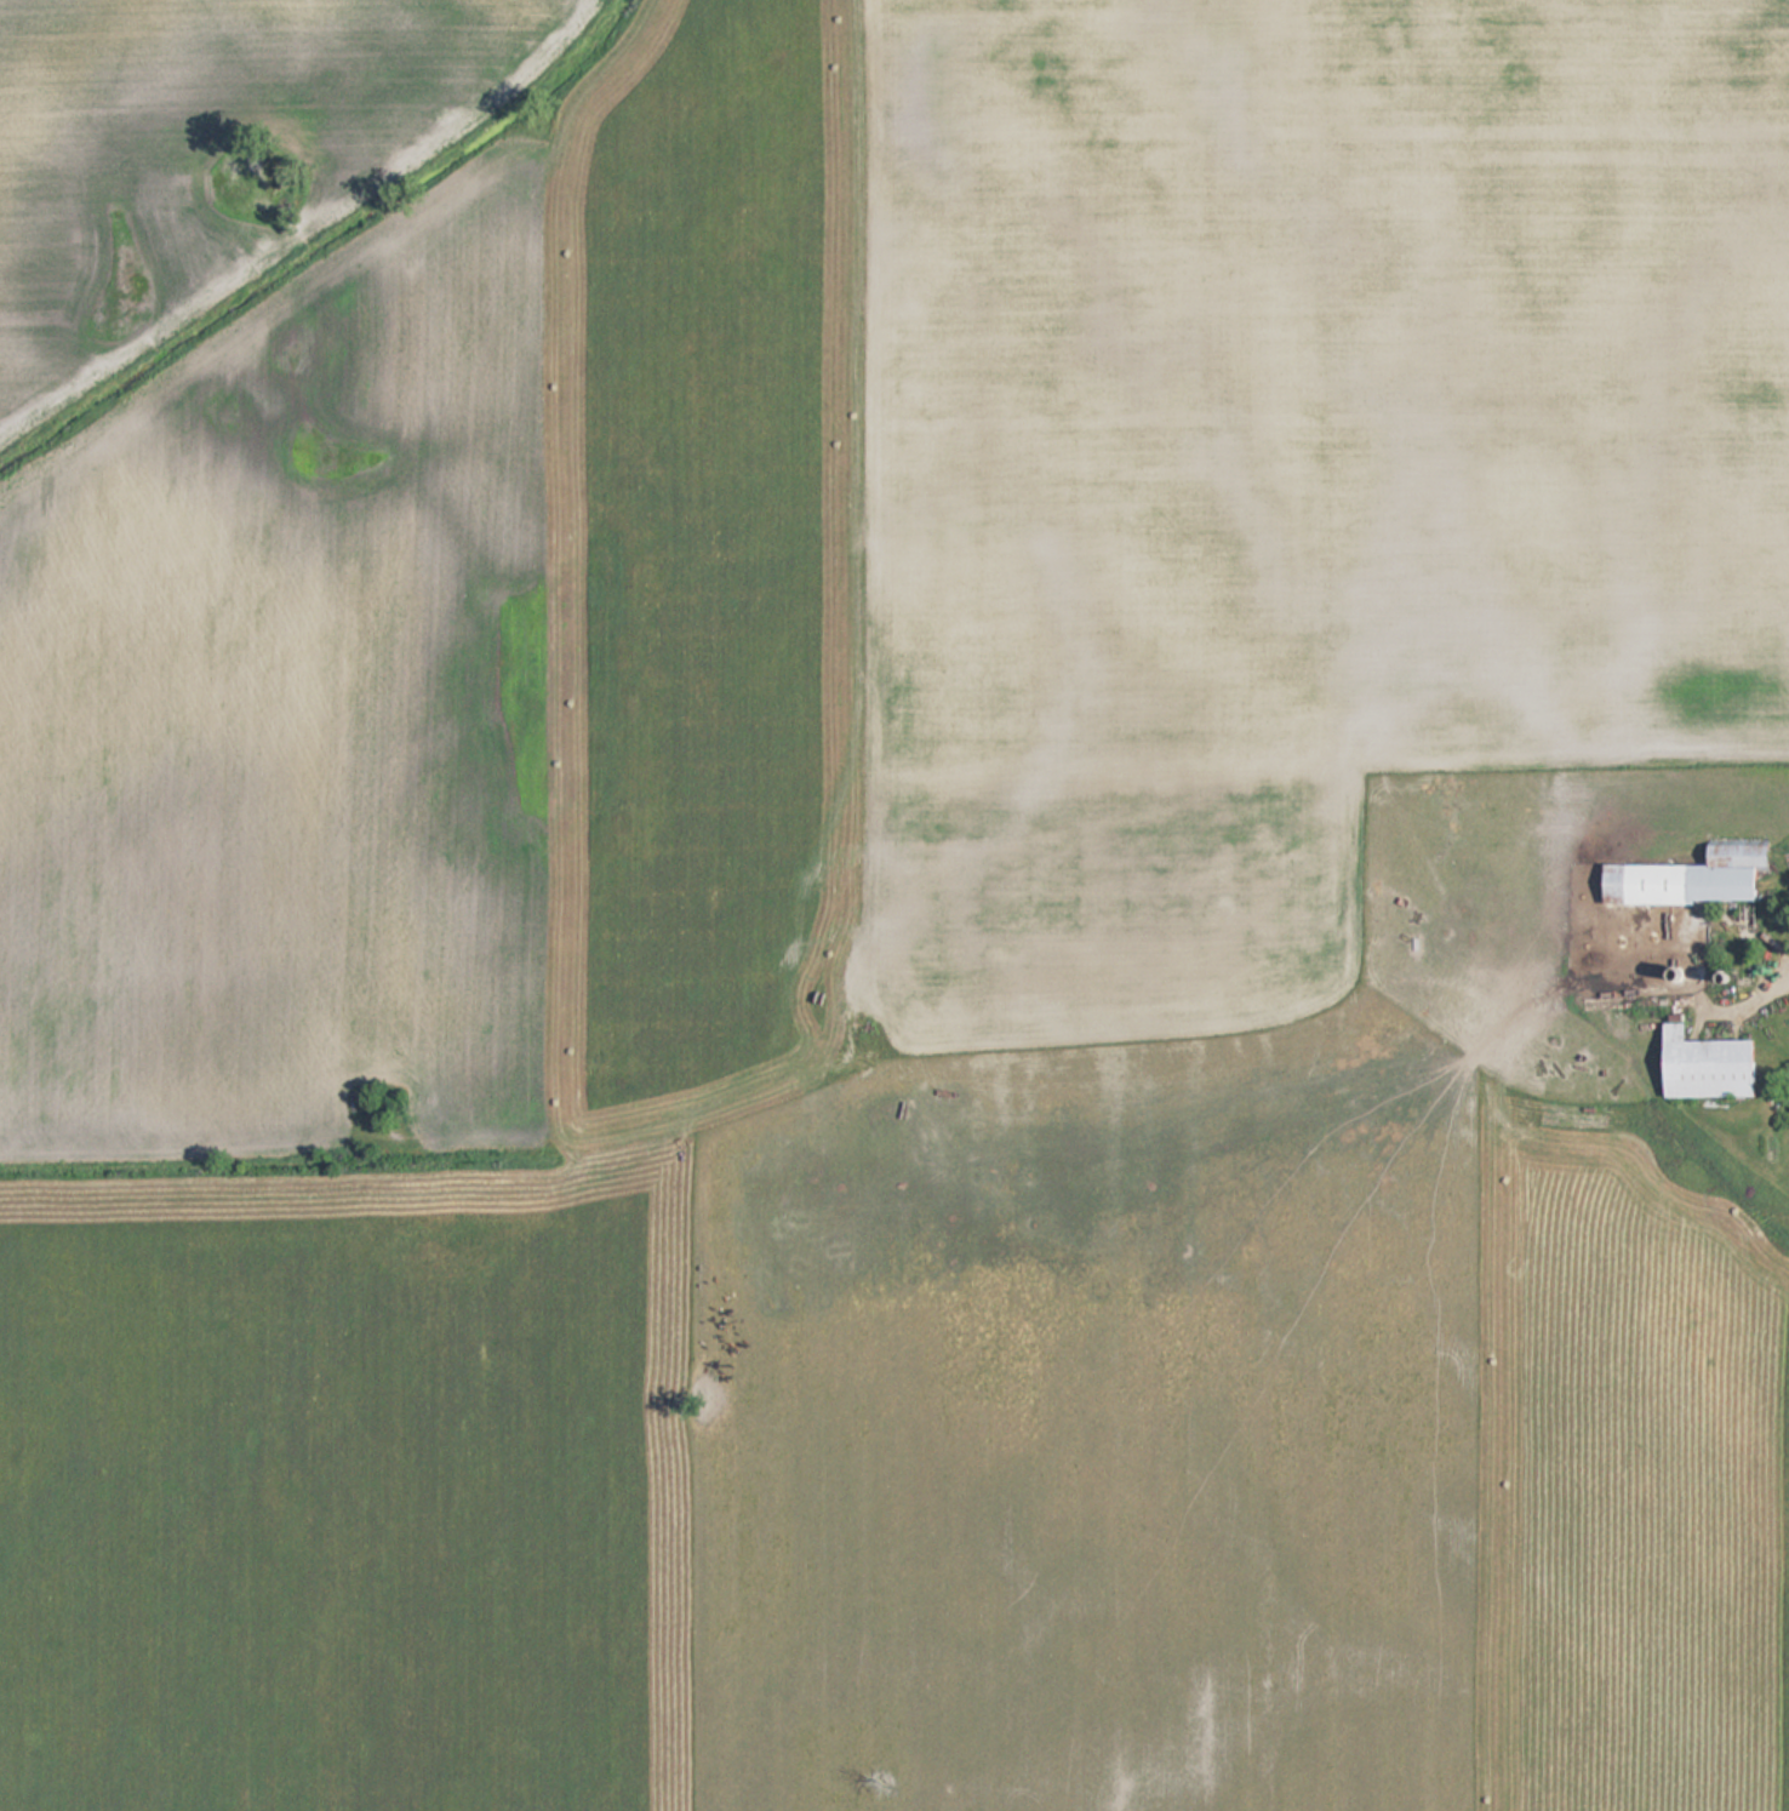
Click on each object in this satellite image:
building: (1685, 876)
building: (1697, 1064)

